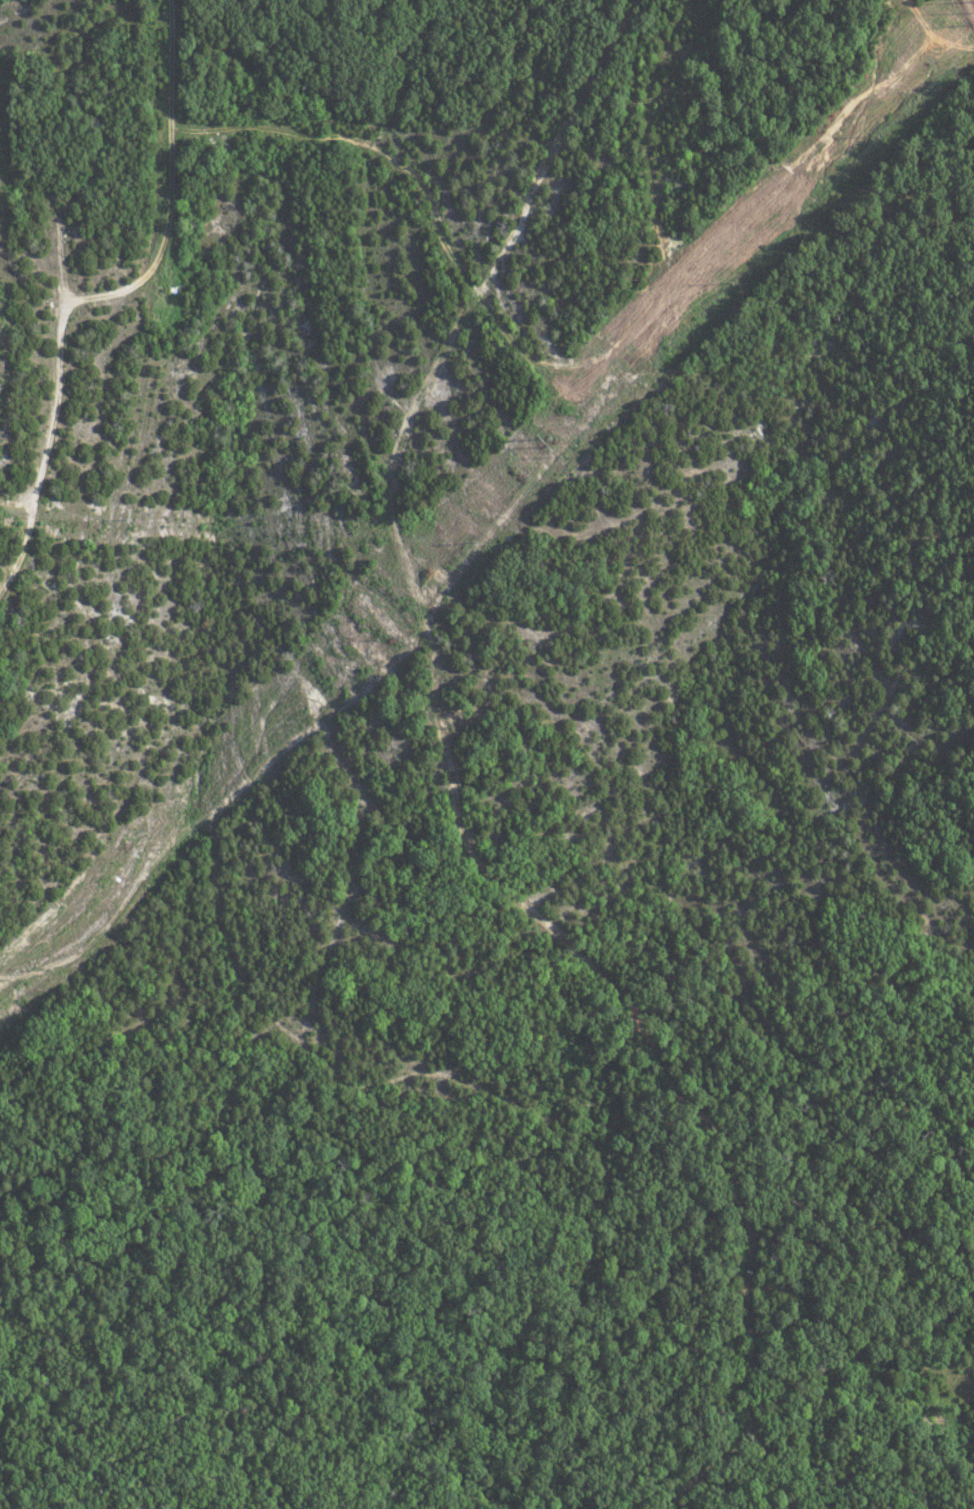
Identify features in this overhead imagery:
road: (127, 132)
power tower: (541, 443)

